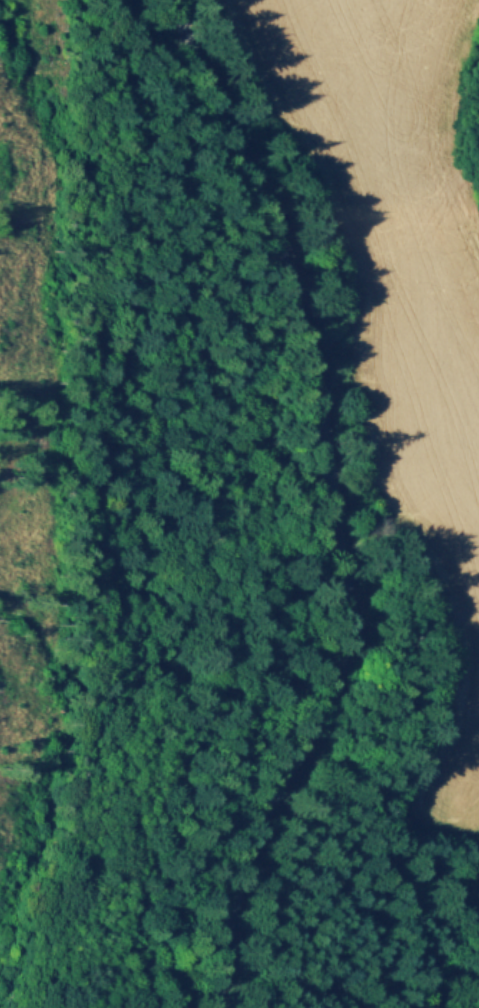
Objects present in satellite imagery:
crop: (397, 303)
road: (340, 503)

